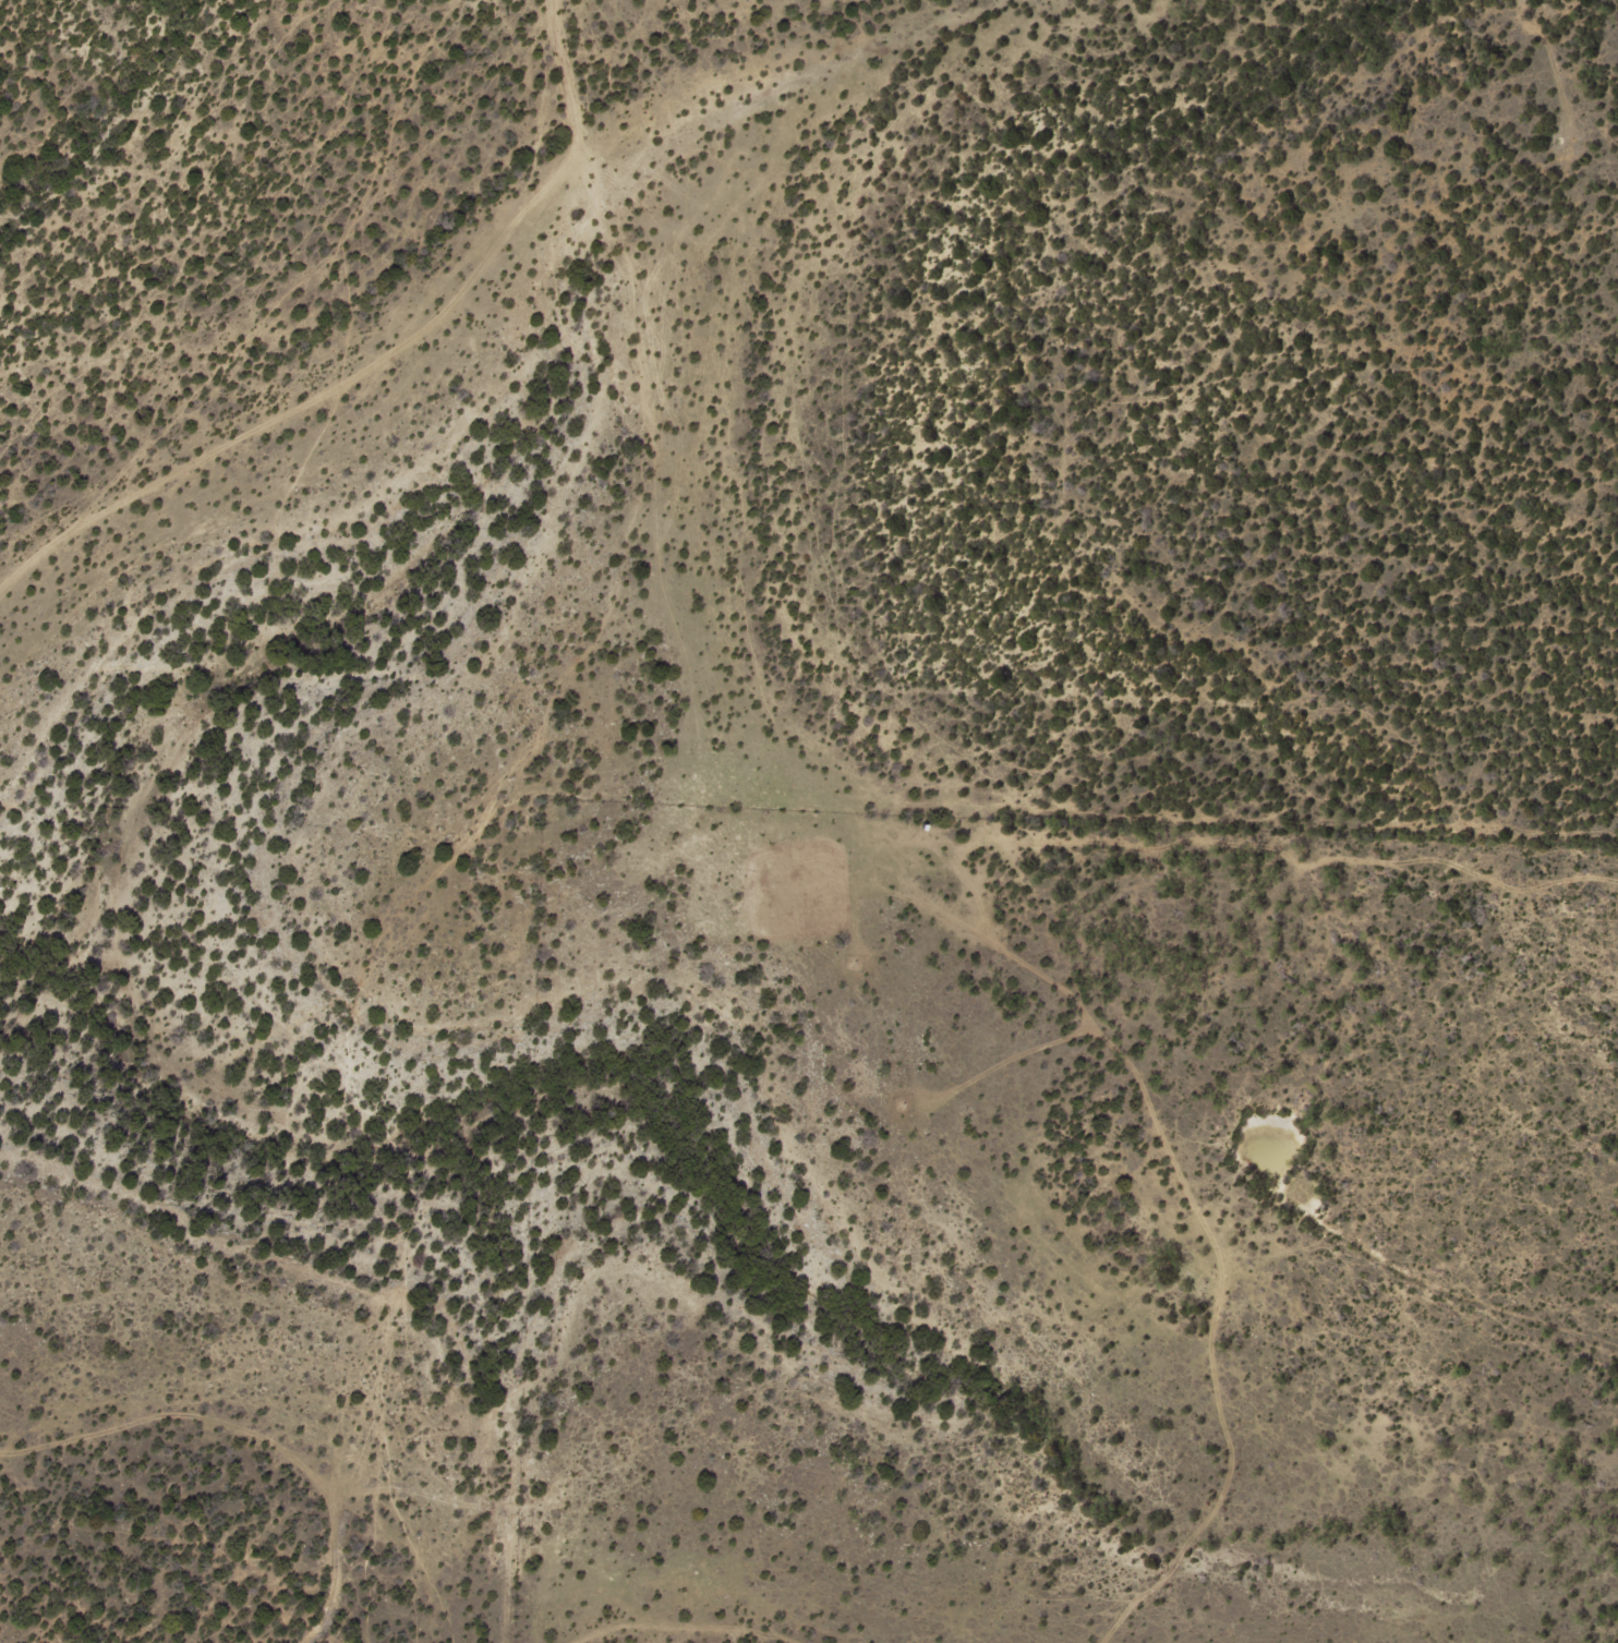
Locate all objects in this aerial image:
road: (407, 388)
road: (1497, 1068)
road: (276, 1445)

